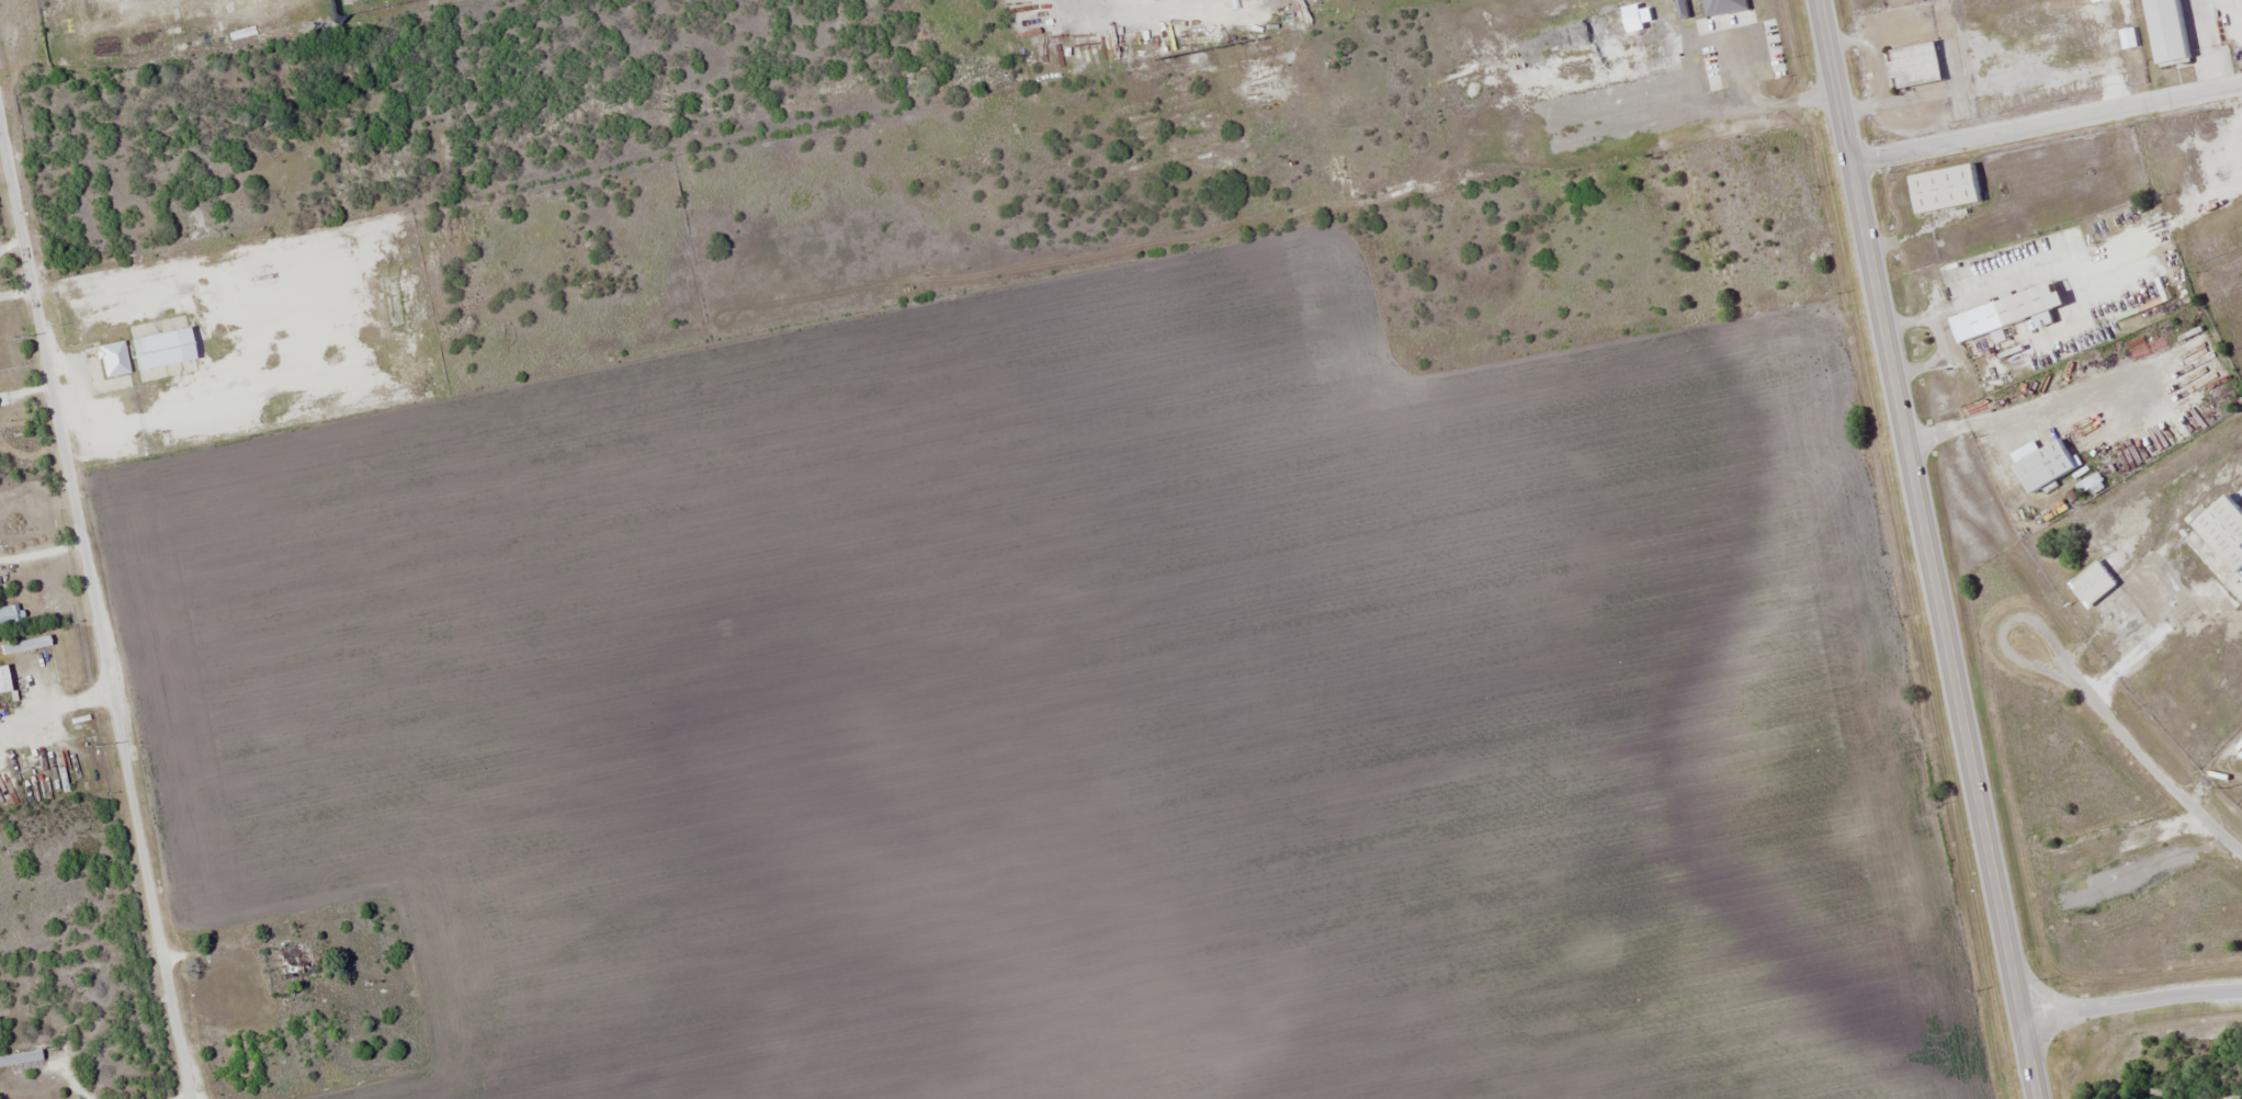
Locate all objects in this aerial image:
building: (2099, 0)
building: (2174, 30)
building: (1917, 64)
road: (2046, 122)
building: (1948, 188)
building: (2013, 310)
power tower: (15, 338)
building: (1998, 382)
building: (2048, 463)
building: (2223, 521)
road: (1928, 549)
building: (2096, 581)
building: (8, 616)
road: (94, 616)
building: (26, 645)
building: (59, 657)
building: (4, 680)
road: (54, 700)
power tower: (95, 746)
road: (2149, 762)
building: (296, 959)
road: (2131, 1002)

